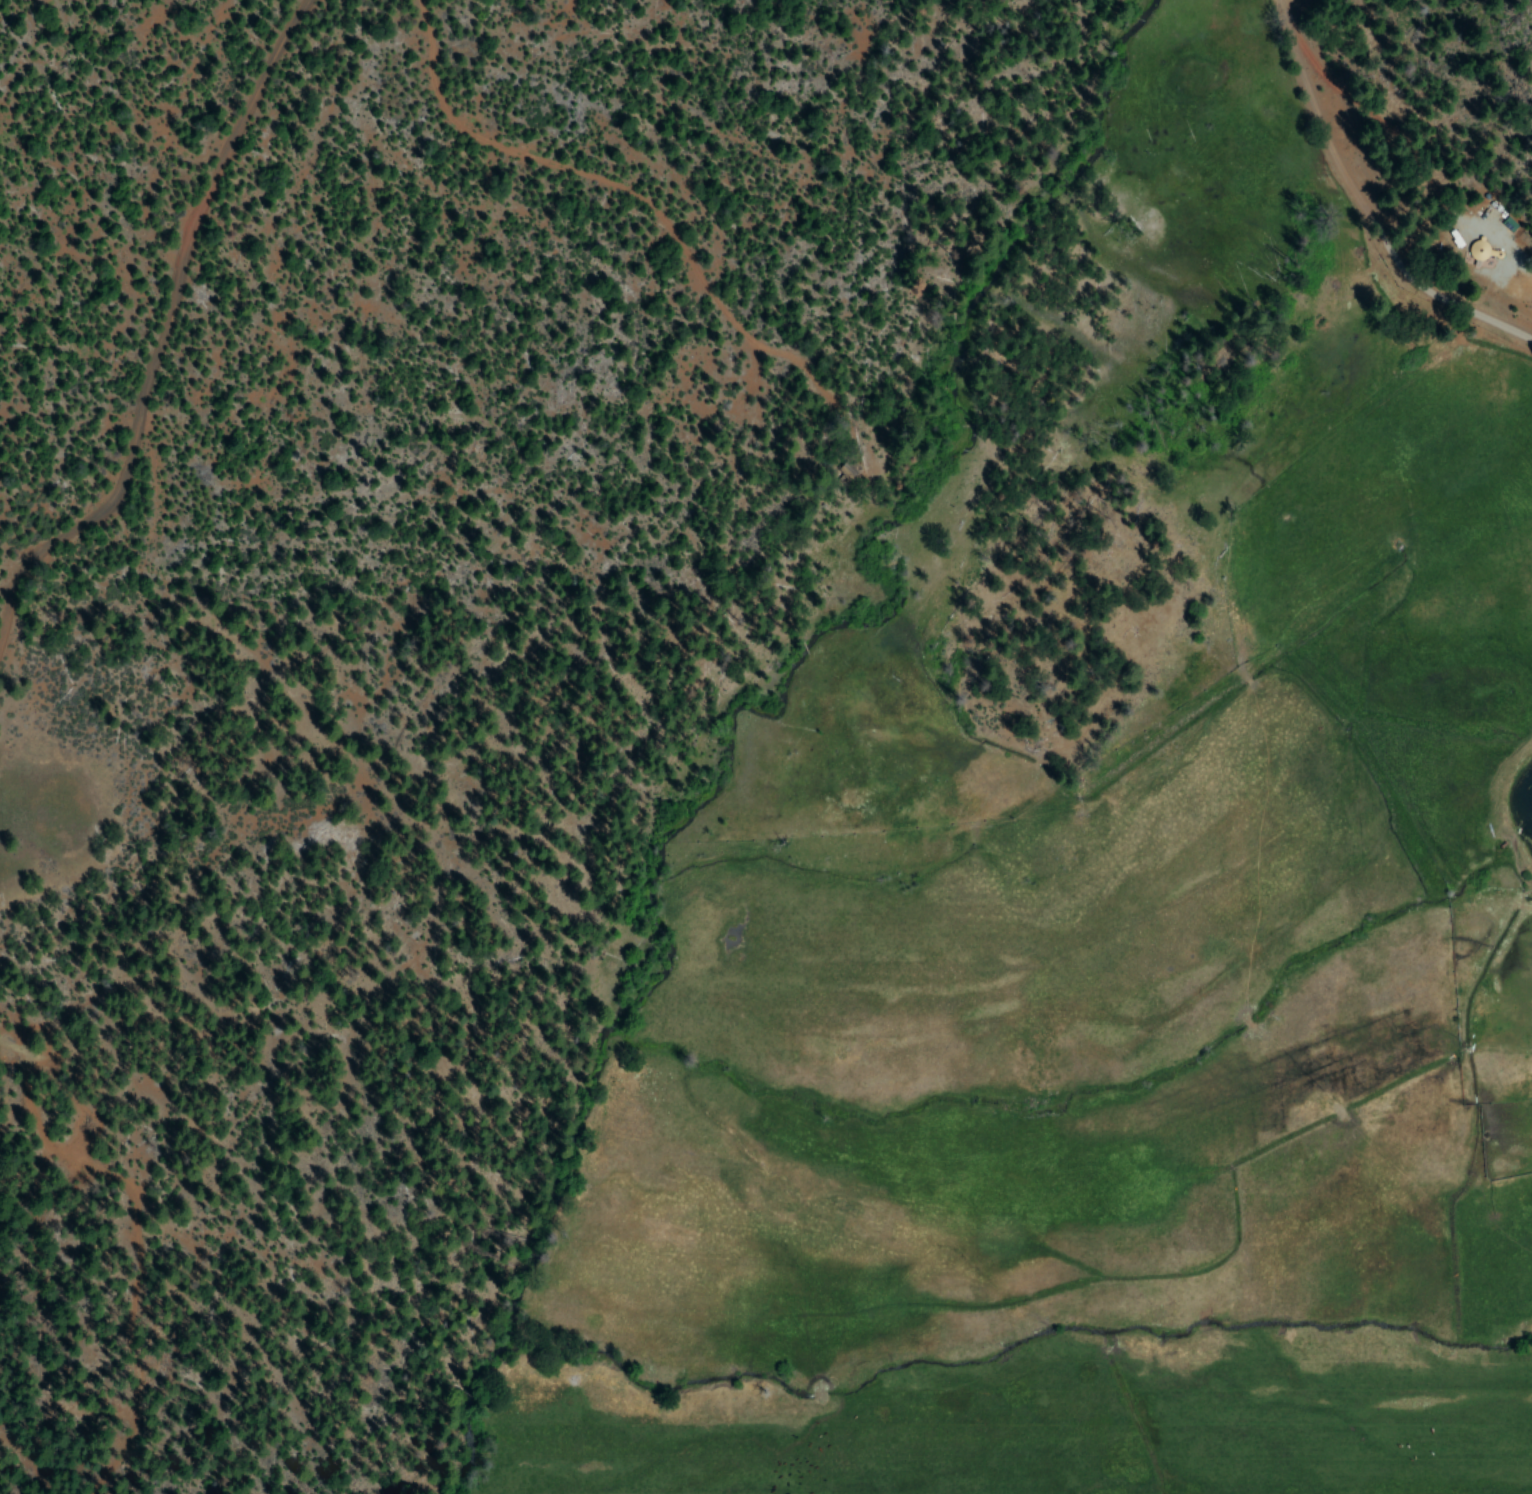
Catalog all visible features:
road: (1404, 75)
road: (144, 369)

